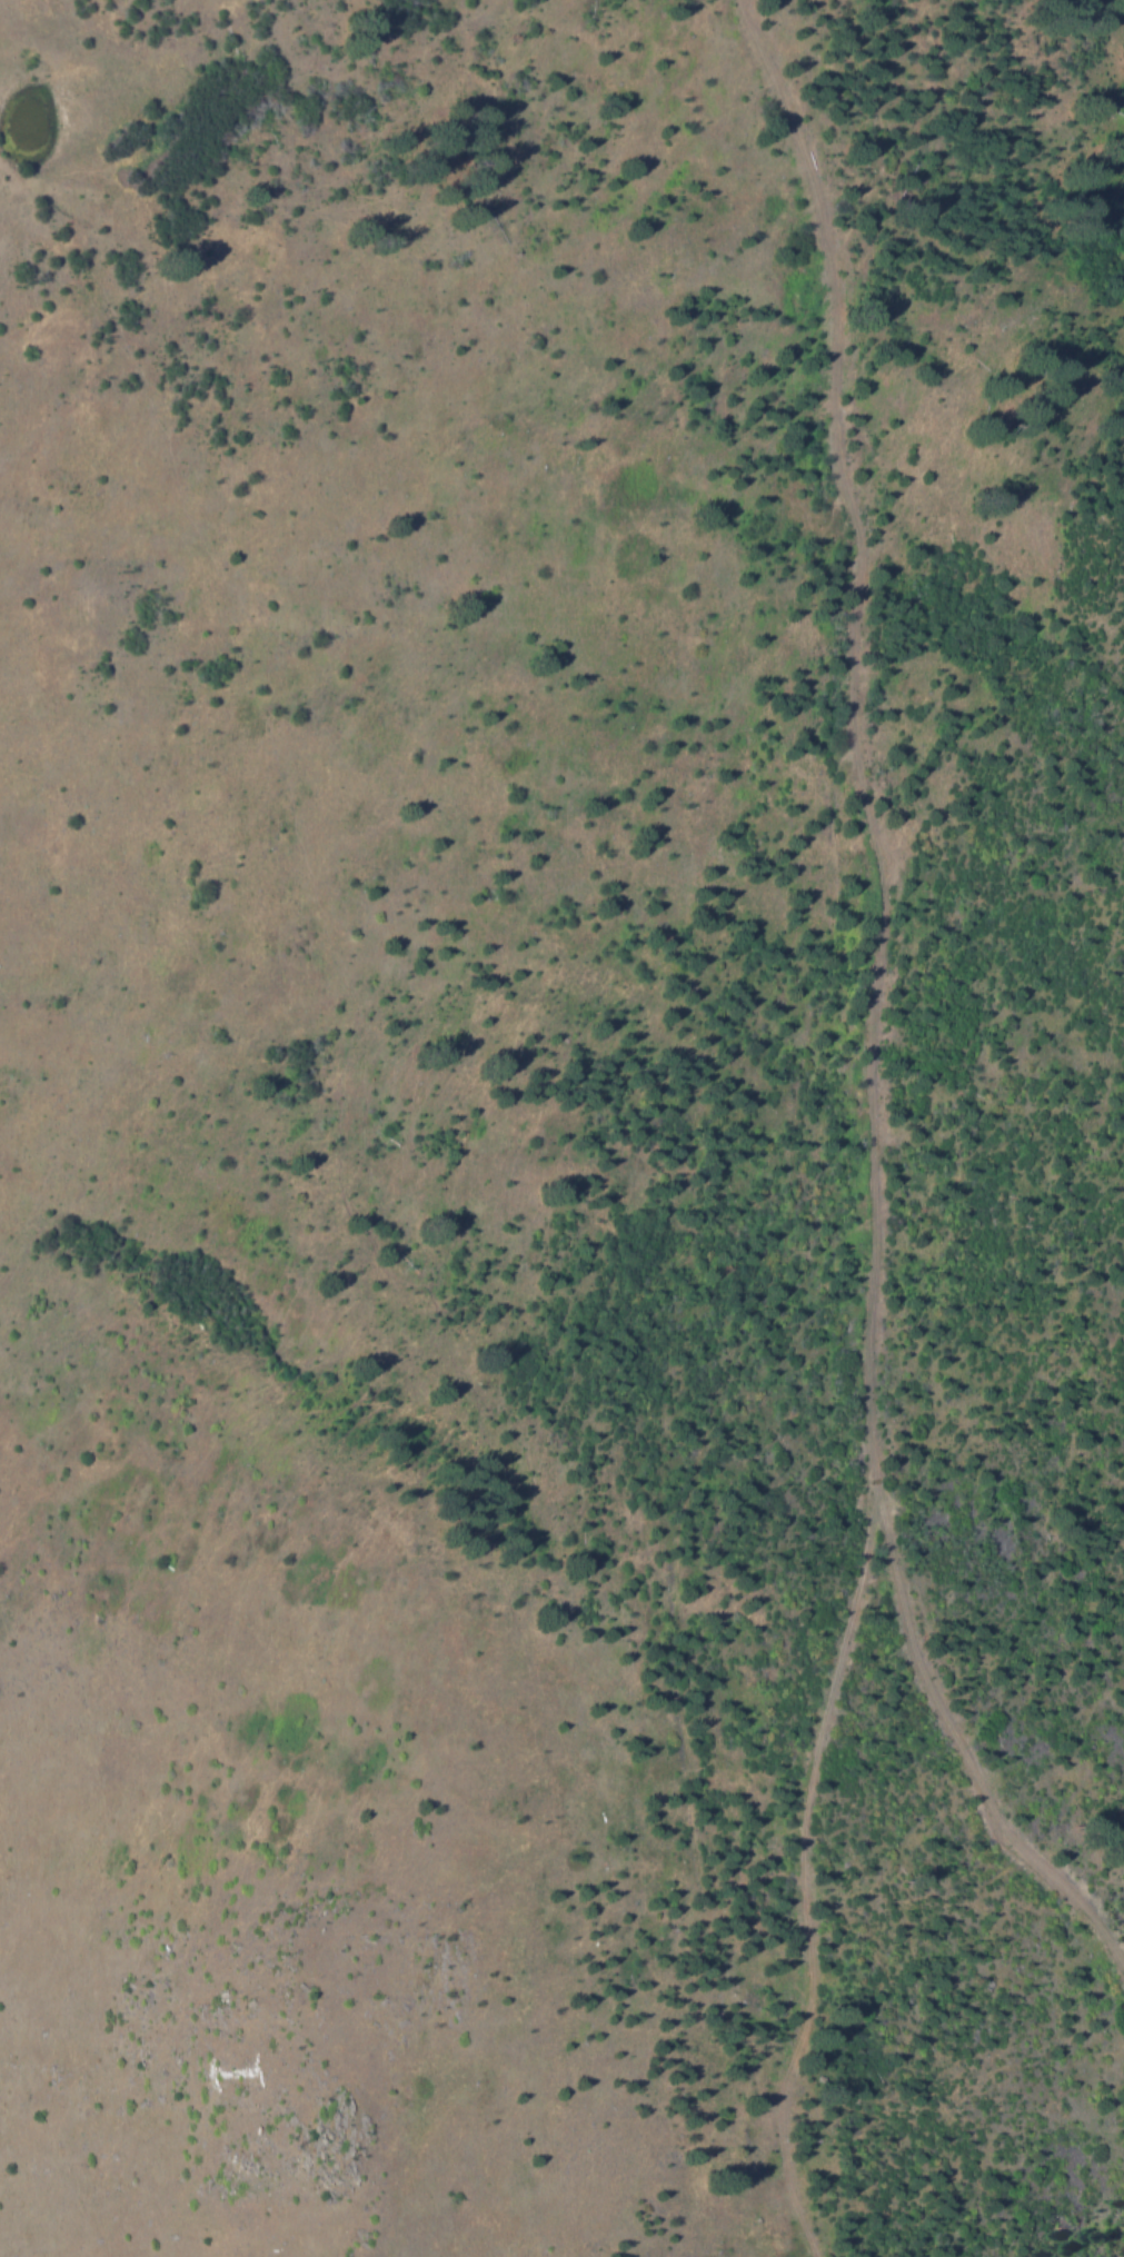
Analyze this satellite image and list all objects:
road: (833, 1035)

